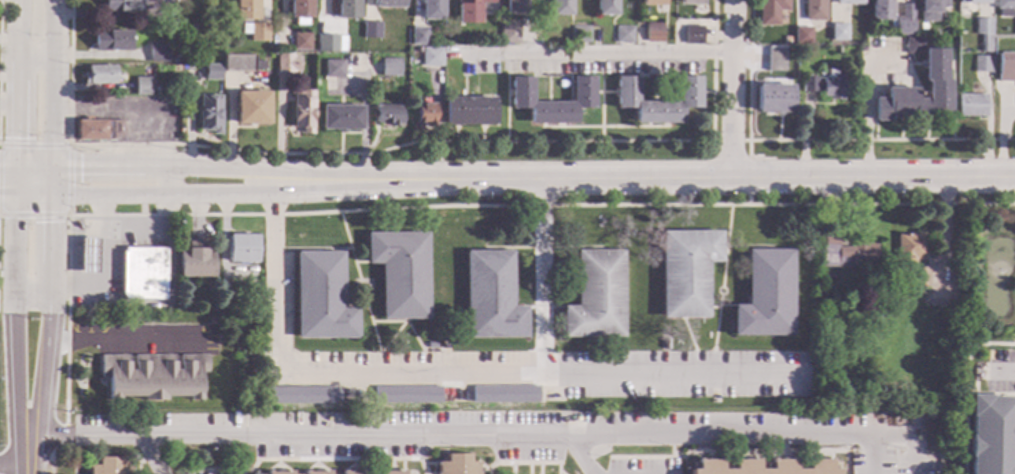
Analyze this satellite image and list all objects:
building: (167, 0)
building: (973, 1)
building: (690, 2)
building: (849, 2)
building: (388, 3)
building: (651, 3)
building: (122, 6)
building: (514, 8)
building: (559, 8)
building: (604, 8)
building: (1005, 8)
building: (300, 9)
building: (347, 9)
building: (245, 10)
building: (431, 10)
building: (813, 10)
building: (932, 10)
building: (880, 11)
building: (468, 12)
building: (770, 12)
building: (903, 21)
building: (371, 30)
road: (51, 31)
building: (255, 32)
building: (653, 32)
building: (935, 32)
building: (509, 33)
building: (838, 33)
building: (984, 33)
building: (1014, 34)
building: (580, 35)
building: (623, 35)
building: (417, 36)
building: (693, 36)
building: (799, 40)
building: (859, 40)
building: (111, 41)
building: (301, 41)
building: (327, 44)
building: (914, 45)
building: (839, 51)
building: (158, 52)
road: (588, 54)
building: (431, 58)
building: (775, 60)
building: (174, 61)
road: (35, 62)
building: (238, 64)
building: (286, 64)
building: (259, 65)
building: (983, 65)
building: (1006, 66)
building: (389, 67)
building: (334, 68)
building: (213, 72)
building: (99, 75)
road: (18, 83)
building: (938, 84)
road: (952, 84)
building: (826, 85)
building: (143, 86)
road: (731, 88)
building: (626, 89)
road: (600, 90)
building: (519, 91)
building: (773, 99)
road: (866, 100)
road: (9, 105)
building: (972, 106)
building: (252, 108)
road: (130, 110)
building: (468, 111)
building: (303, 112)
road: (50, 114)
building: (210, 115)
building: (387, 115)
building: (424, 115)
building: (341, 118)
road: (603, 127)
building: (99, 130)
road: (1001, 132)
road: (600, 134)
traffic signals: (18, 138)
road: (810, 140)
road: (387, 149)
road: (748, 154)
road: (8, 168)
road: (33, 168)
traffic signals: (80, 168)
road: (270, 170)
road: (752, 177)
road: (69, 180)
road: (17, 182)
road: (49, 182)
road: (269, 194)
road: (8, 196)
road: (33, 196)
road: (162, 201)
road: (449, 205)
road: (101, 216)
traffic signals: (49, 222)
road: (49, 245)
road: (725, 246)
road: (749, 246)
road: (542, 247)
road: (312, 248)
building: (910, 248)
building: (241, 249)
building: (844, 252)
building: (88, 256)
road: (104, 261)
building: (195, 261)
road: (359, 261)
building: (685, 271)
building: (399, 273)
building: (142, 274)
building: (920, 275)
road: (539, 276)
road: (718, 287)
building: (228, 291)
road: (31, 293)
building: (765, 295)
building: (595, 296)
building: (490, 297)
building: (849, 297)
building: (321, 298)
road: (364, 301)
road: (725, 305)
road: (542, 306)
road: (712, 306)
road: (361, 309)
building: (875, 316)
road: (404, 321)
road: (715, 323)
road: (13, 330)
road: (47, 333)
road: (688, 335)
road: (74, 341)
road: (139, 341)
building: (664, 344)
building: (430, 346)
road: (379, 363)
road: (422, 363)
road: (695, 364)
road: (712, 364)
road: (1003, 372)
road: (446, 374)
building: (152, 376)
road: (976, 377)
road: (965, 387)
road: (990, 392)
building: (300, 395)
building: (405, 395)
building: (504, 395)
building: (256, 406)
road: (67, 416)
road: (36, 418)
road: (468, 431)
building: (991, 435)
road: (672, 444)
road: (740, 450)
road: (73, 453)
road: (147, 453)
road: (875, 453)
road: (914, 453)
road: (580, 454)
road: (340, 458)
road: (137, 461)
road: (525, 462)
road: (353, 463)
road: (278, 464)
road: (315, 464)
road: (401, 464)
road: (428, 464)
building: (709, 464)
road: (14, 465)
road: (353, 465)
road: (391, 465)
building: (456, 465)
road: (277, 466)
road: (315, 466)
road: (386, 466)
road: (482, 466)
building: (108, 467)
road: (513, 468)
road: (530, 468)
road: (541, 468)
road: (28, 469)
road: (213, 469)
road: (480, 470)
building: (305, 472)
building: (354, 472)
building: (391, 472)
road: (560, 472)
building: (278, 473)

